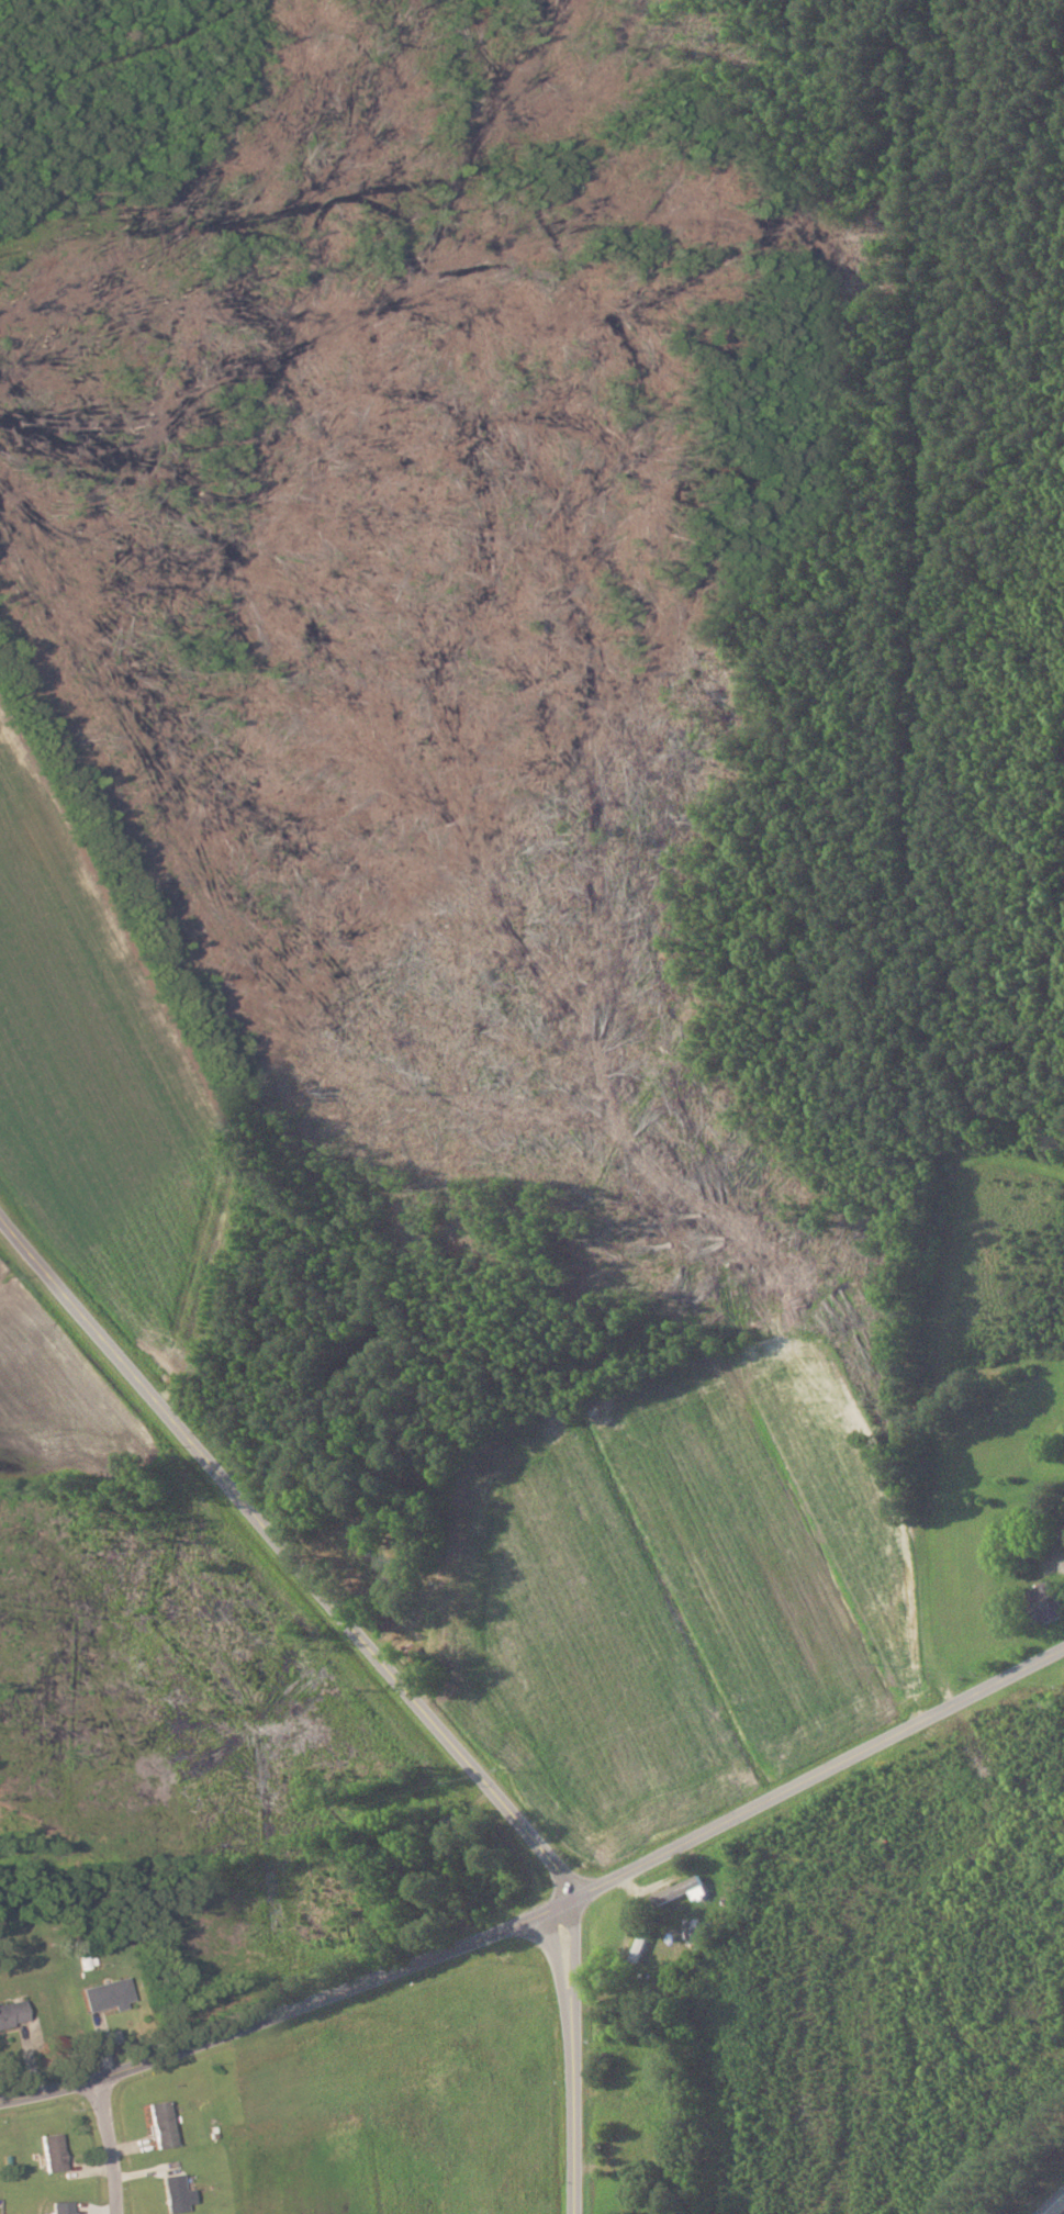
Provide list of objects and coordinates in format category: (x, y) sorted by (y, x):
building: (1063, 1535)
building: (1045, 1603)
building: (413, 1656)
road: (397, 1680)
building: (491, 1880)
building: (680, 1893)
road: (547, 1915)
building: (638, 1949)
building: (108, 1994)
building: (12, 2013)
building: (161, 2124)
road: (109, 2145)
building: (54, 2152)
building: (175, 2191)
building: (63, 2206)
road: (1060, 2210)

